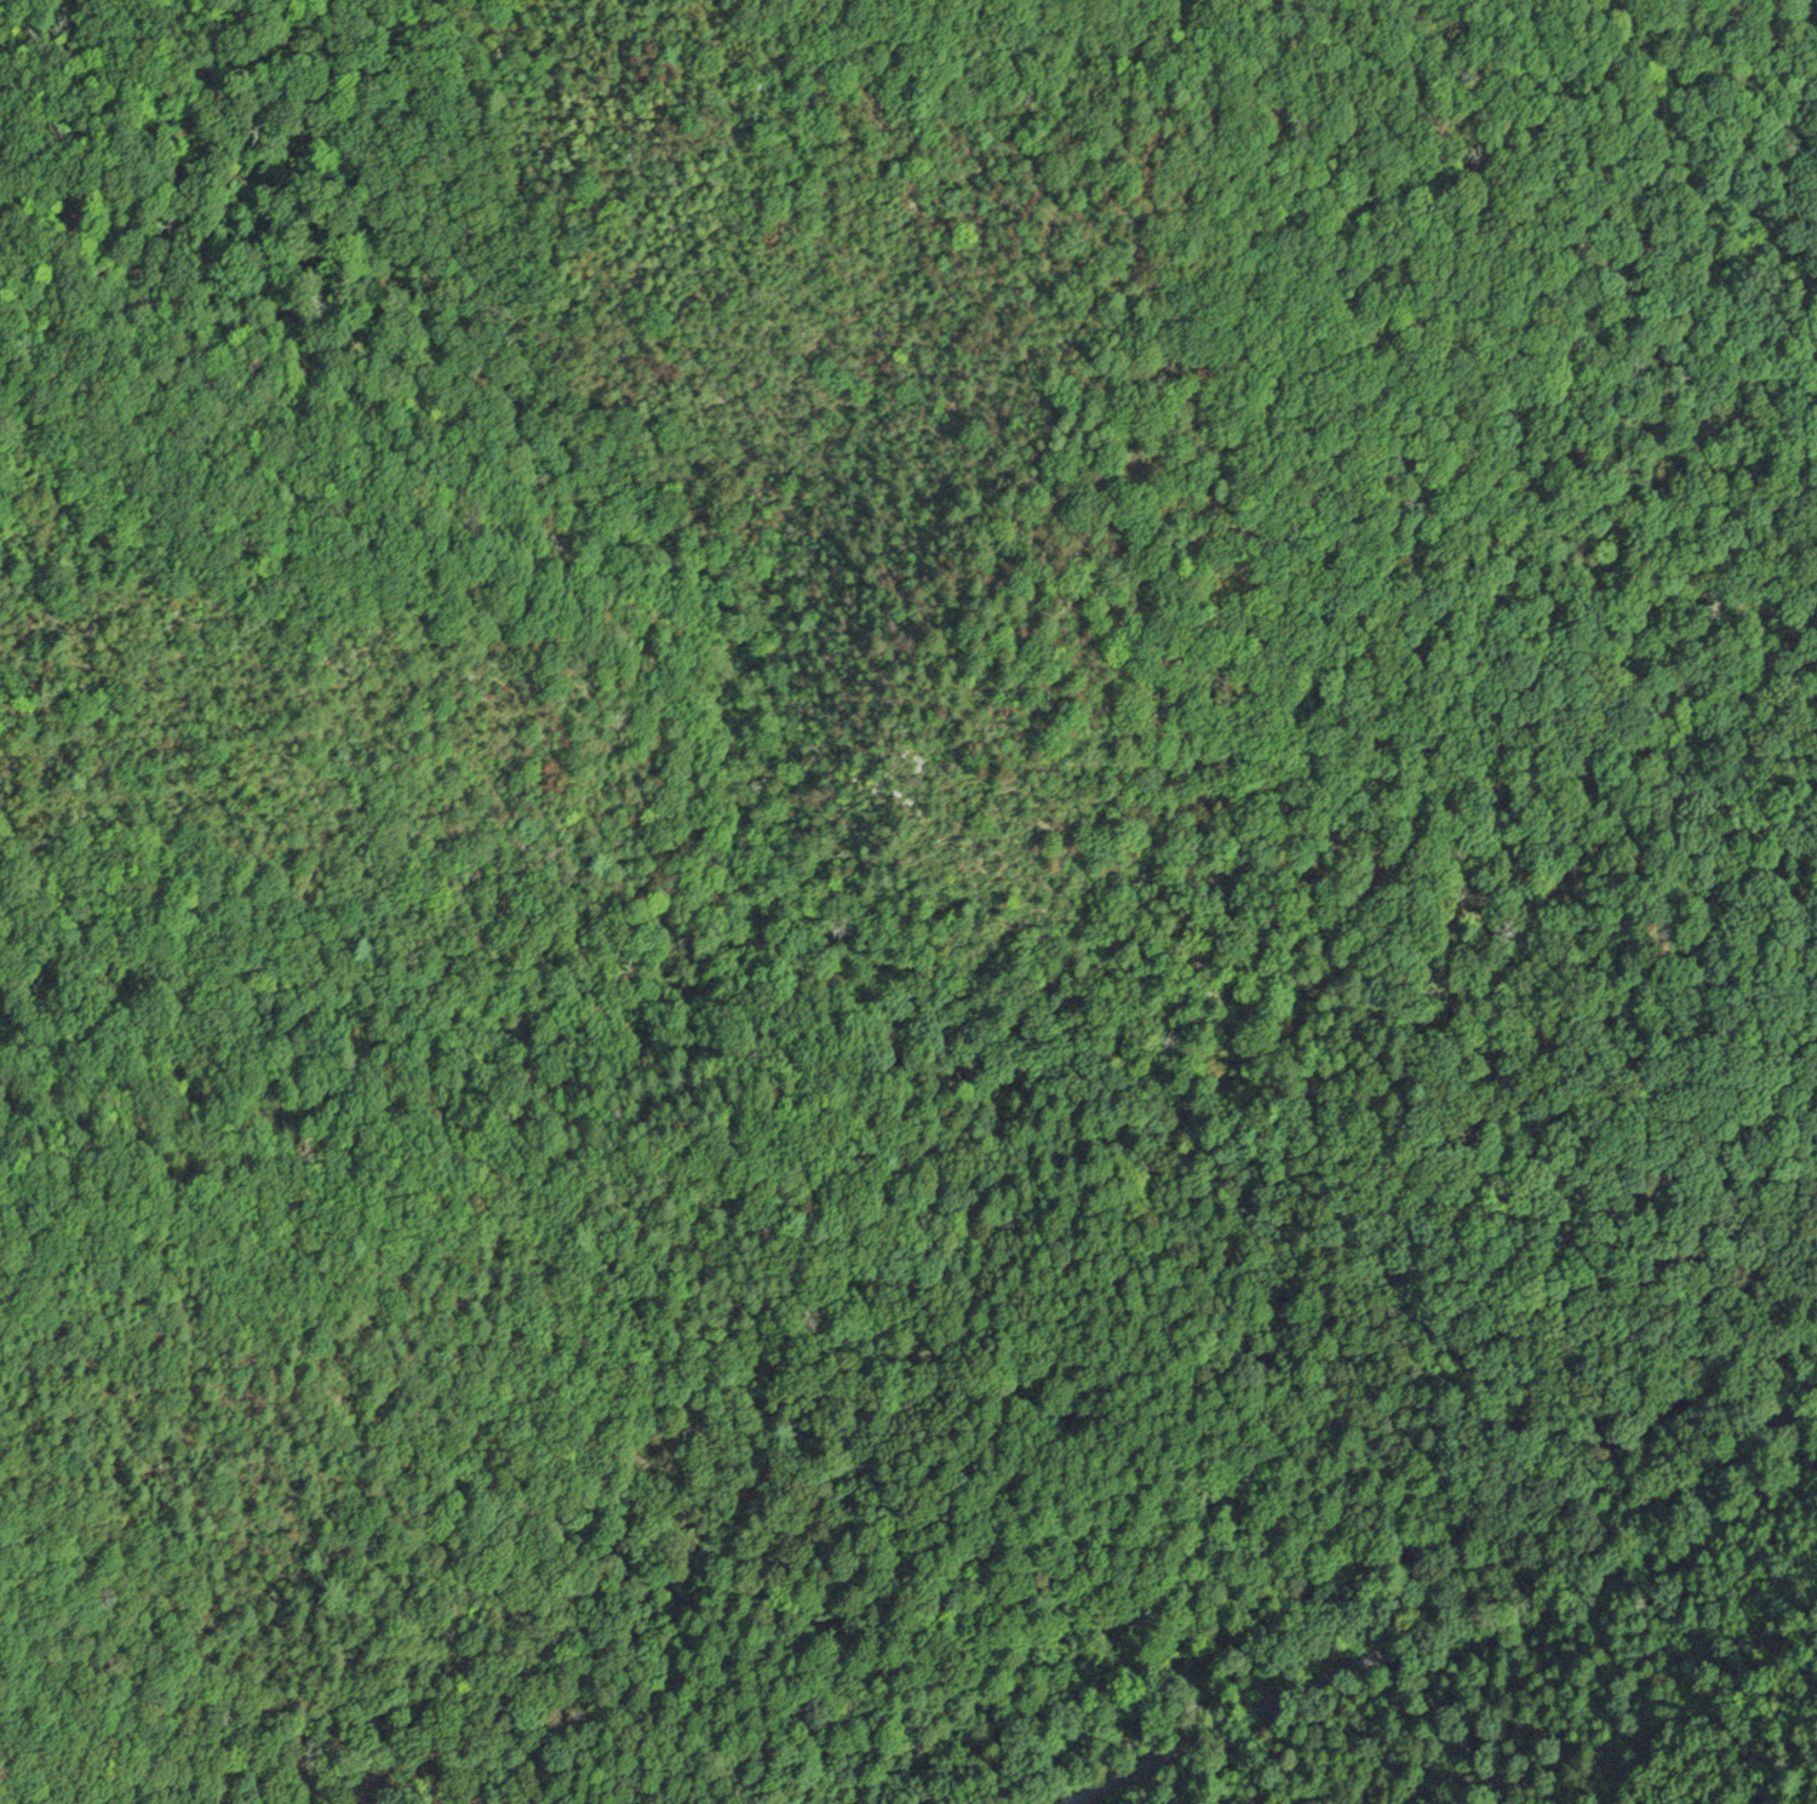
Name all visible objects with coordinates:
road: (1455, 1621)

